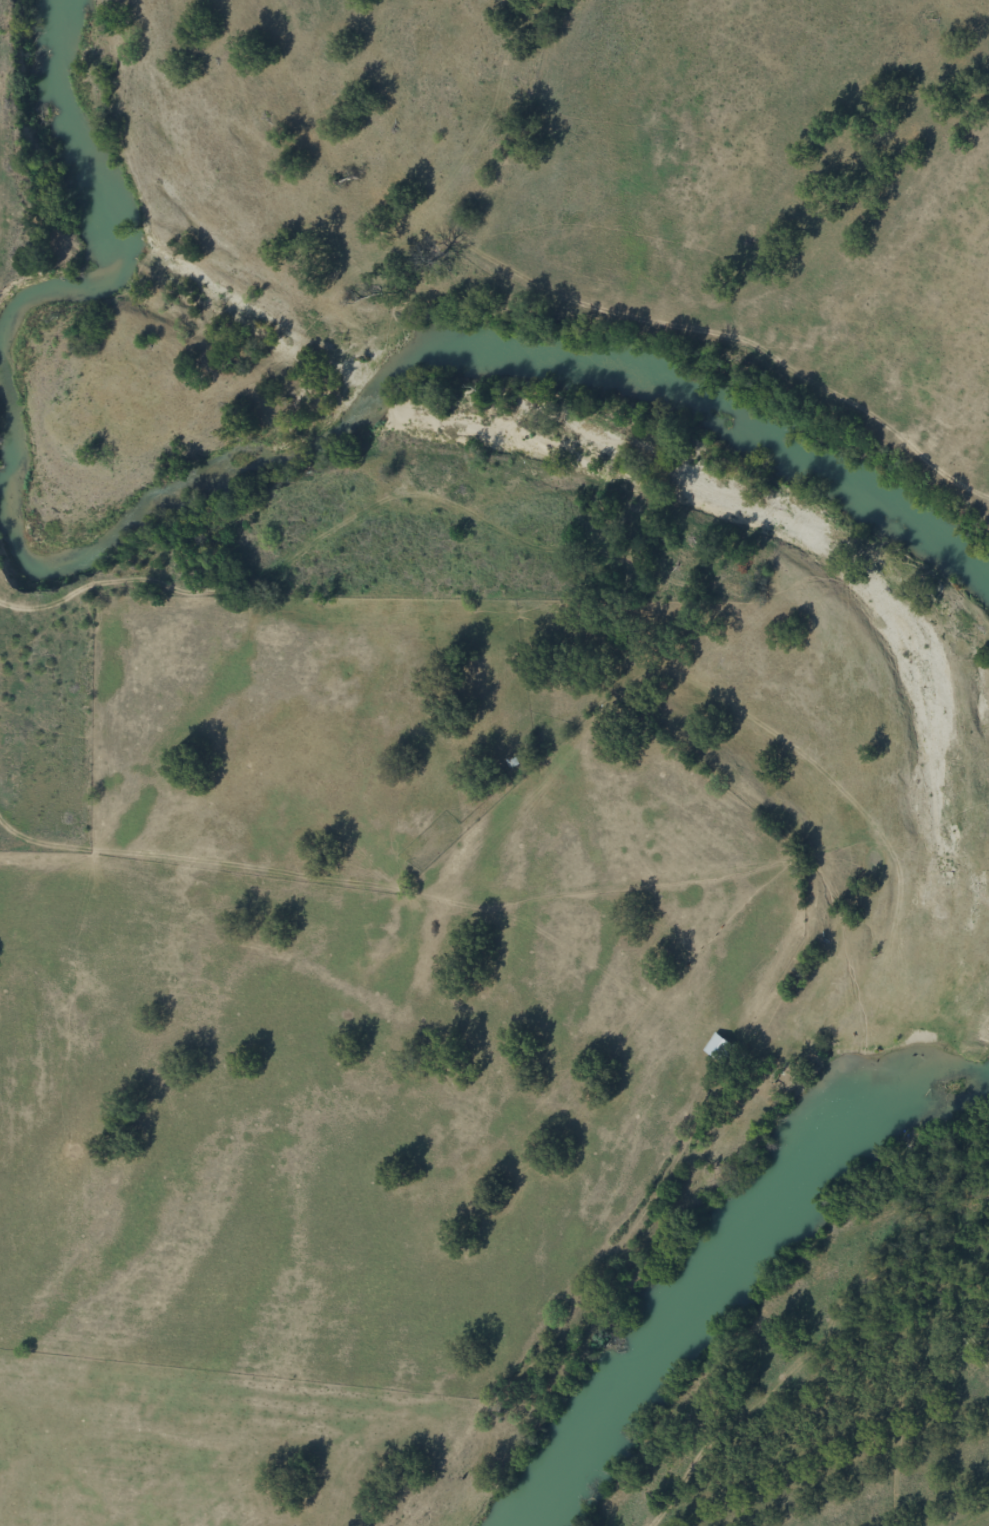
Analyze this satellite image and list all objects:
river: (247, 485)
road: (301, 614)
building: (712, 1048)
river: (730, 1273)
road: (814, 1398)

